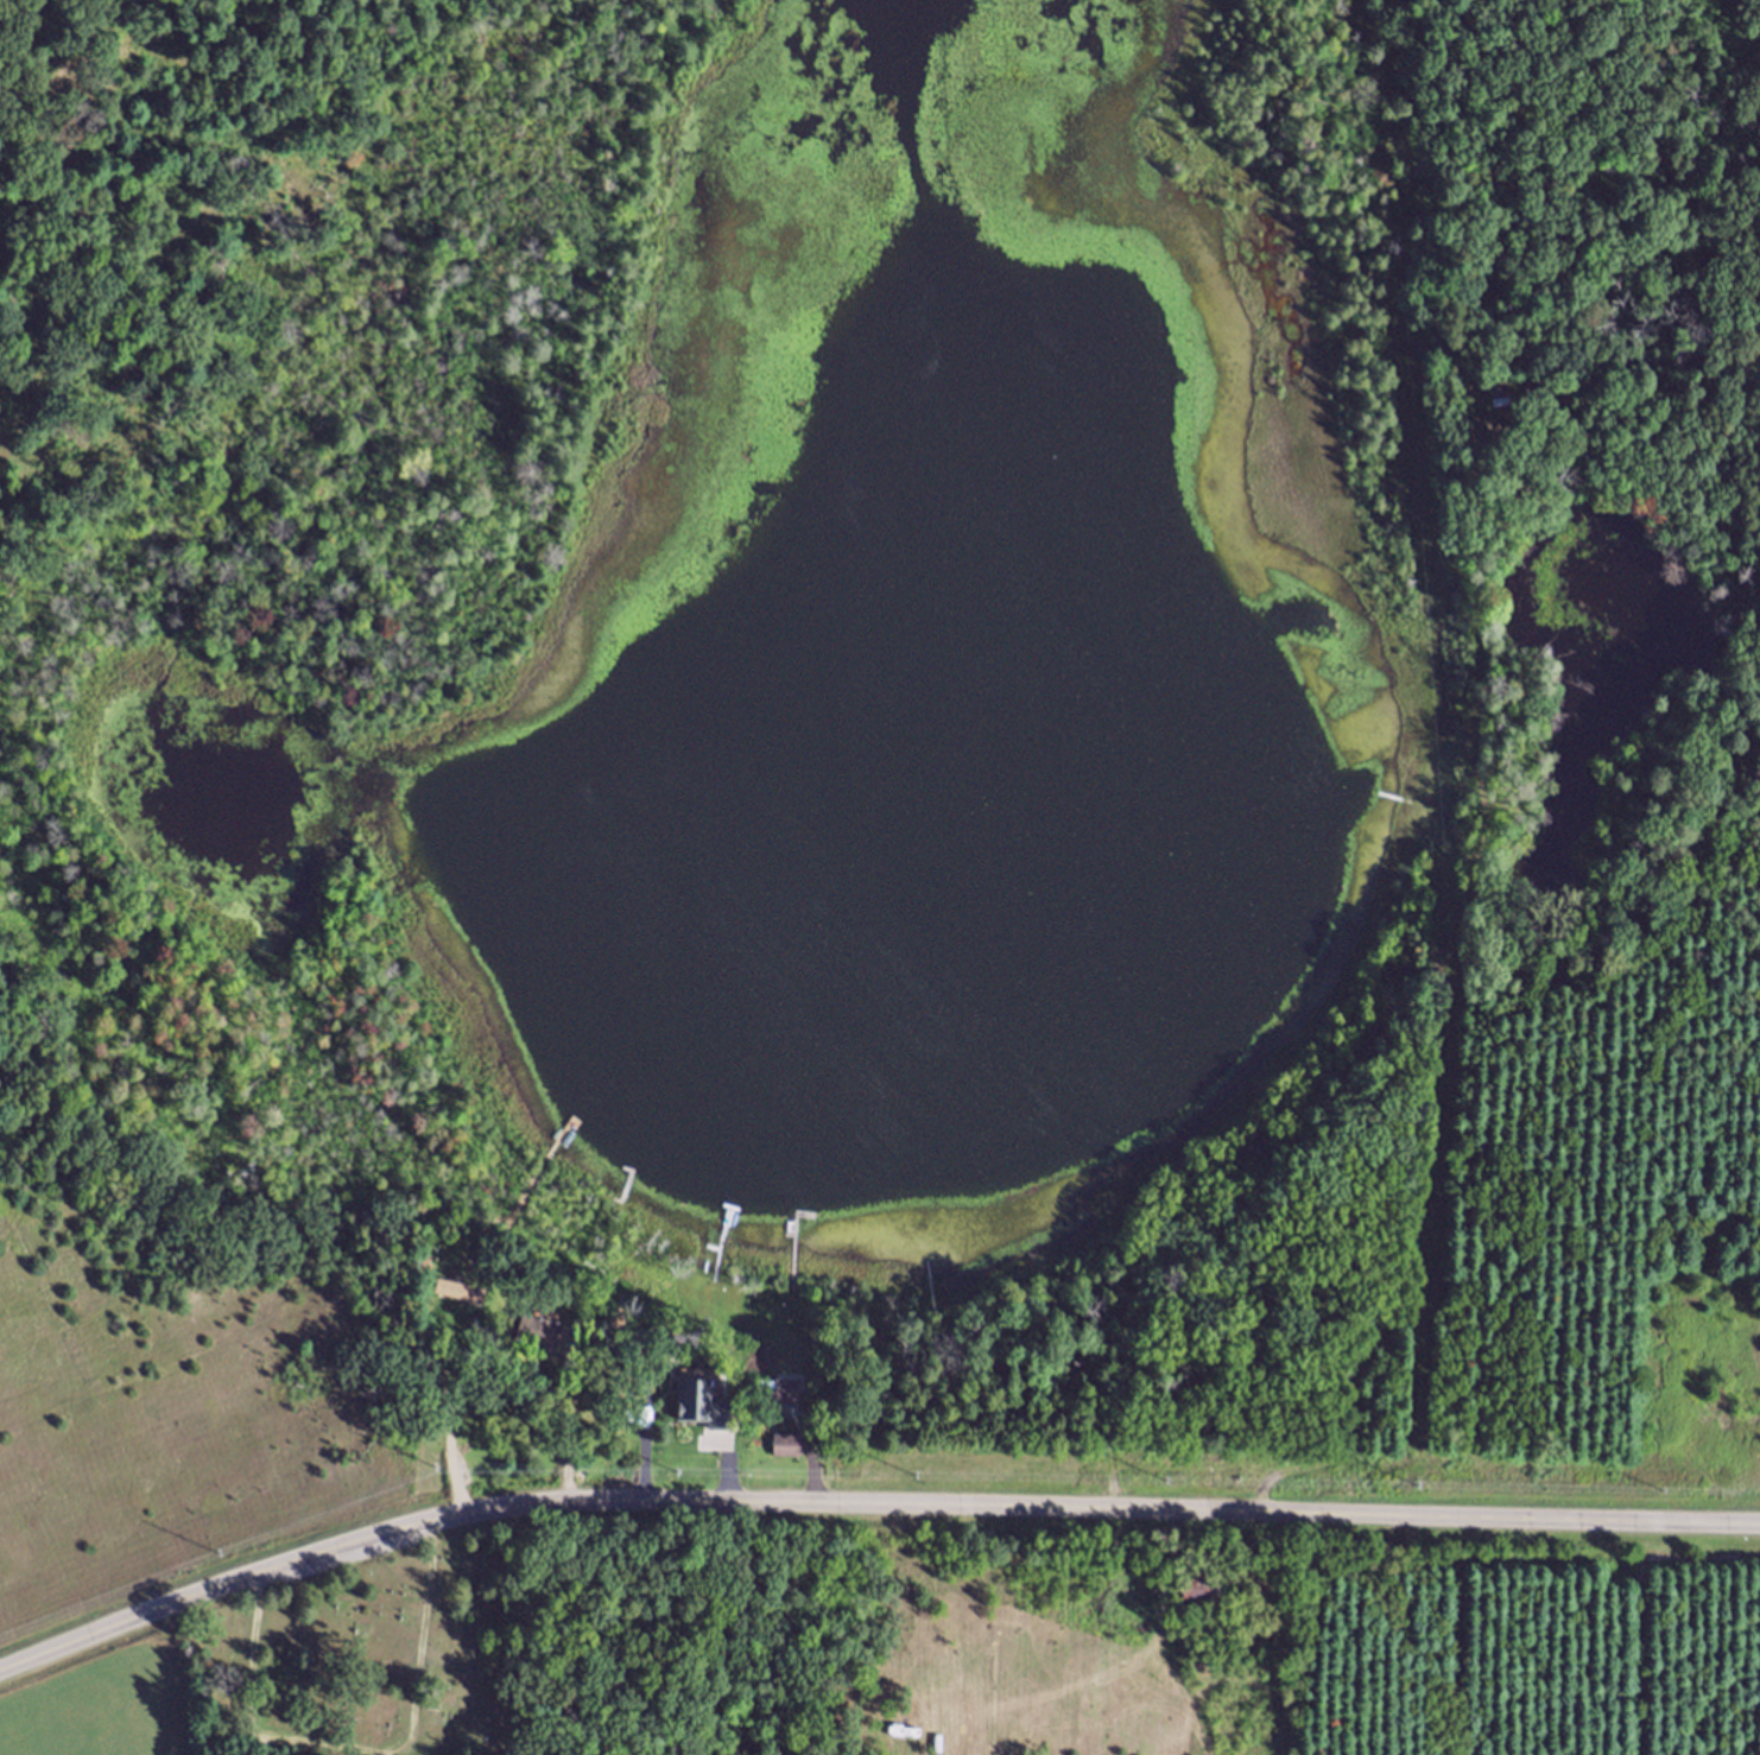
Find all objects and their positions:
road: (1370, 1028)
building: (450, 1301)
building: (777, 1404)
building: (698, 1412)
building: (784, 1457)
road: (866, 1507)
building: (1191, 1602)
park: (353, 1651)

